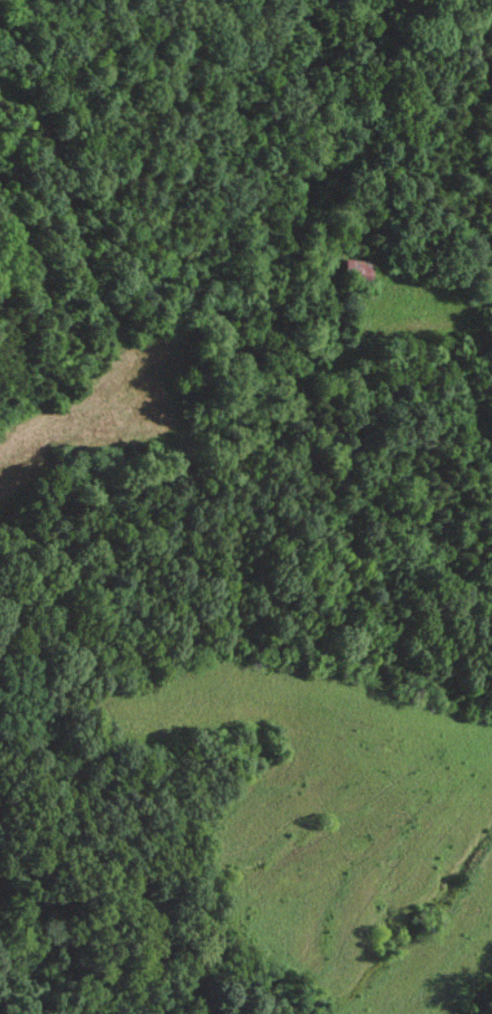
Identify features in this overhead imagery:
road: (90, 283)

